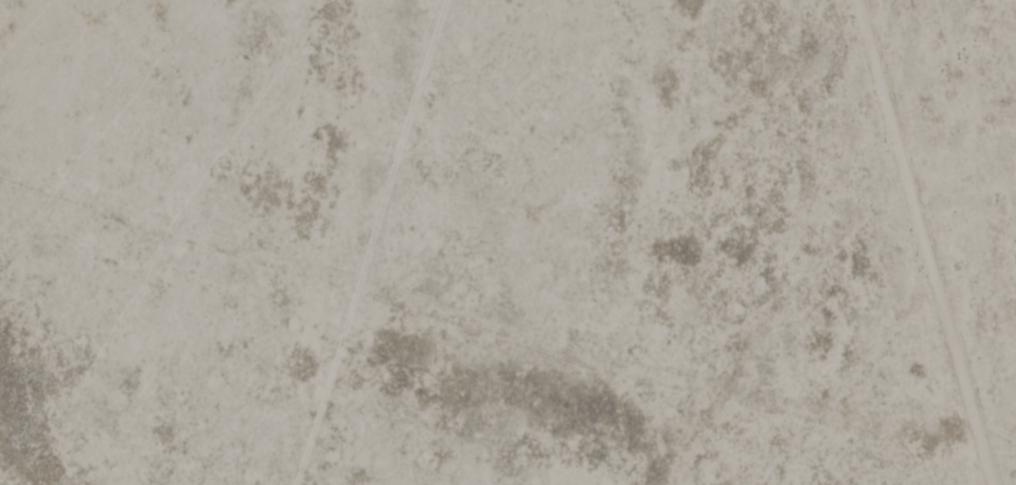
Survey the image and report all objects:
road: (913, 245)

